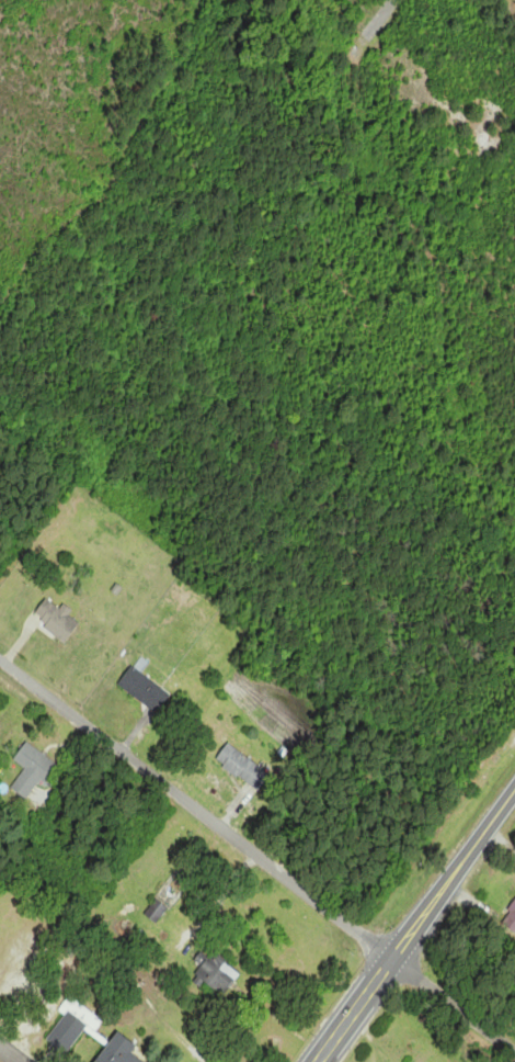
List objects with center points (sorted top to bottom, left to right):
road: (379, 18)
building: (58, 620)
building: (144, 689)
building: (242, 767)
building: (32, 771)
road: (195, 812)
building: (510, 918)
road: (415, 926)
building: (215, 971)
road: (454, 1004)
building: (72, 1026)
building: (118, 1050)
road: (10, 1054)

